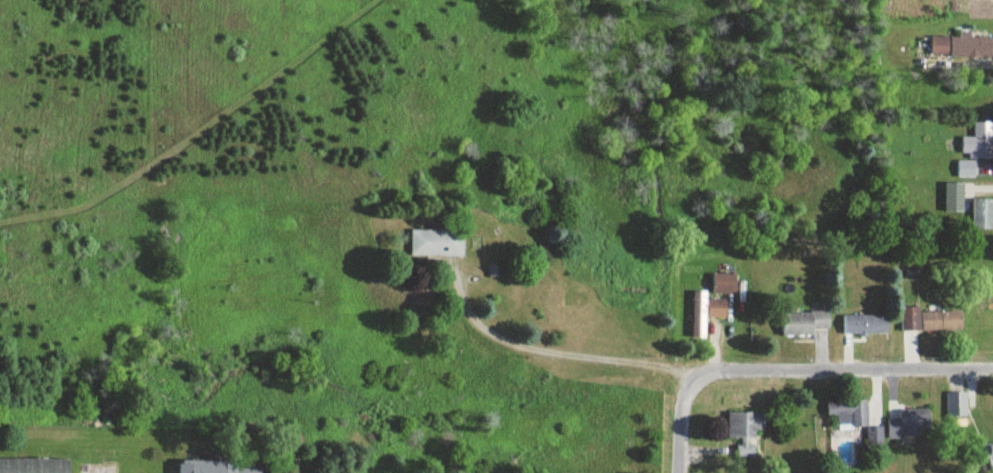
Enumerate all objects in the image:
building: (961, 48)
building: (980, 143)
building: (967, 170)
building: (954, 198)
building: (982, 215)
building: (436, 244)
building: (725, 284)
building: (706, 313)
building: (929, 321)
building: (805, 324)
building: (865, 327)
road: (559, 353)
road: (842, 375)
building: (956, 403)
building: (849, 412)
building: (910, 419)
building: (743, 422)
road: (680, 424)
building: (875, 434)
building: (747, 451)
building: (988, 456)
building: (33, 466)
building: (219, 468)

